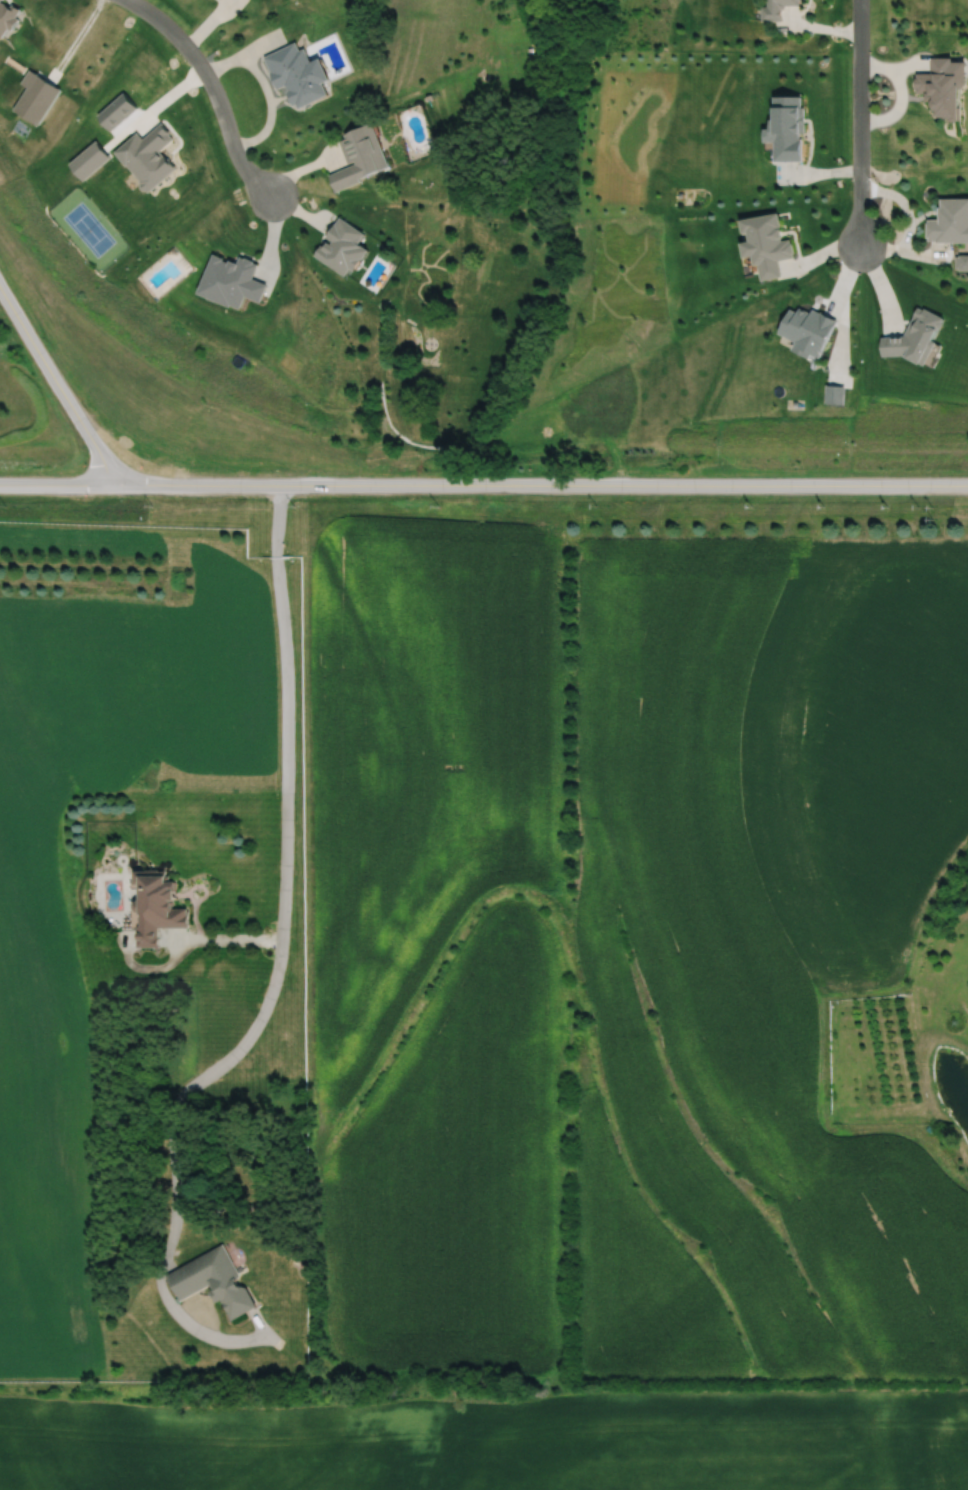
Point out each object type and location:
building: (788, 3)
building: (300, 74)
road: (264, 86)
building: (946, 86)
road: (214, 89)
road: (860, 122)
building: (362, 157)
road: (907, 220)
building: (951, 222)
road: (59, 390)
road: (65, 484)
road: (548, 485)
building: (158, 906)
road: (225, 937)
road: (280, 945)
building: (214, 1281)

